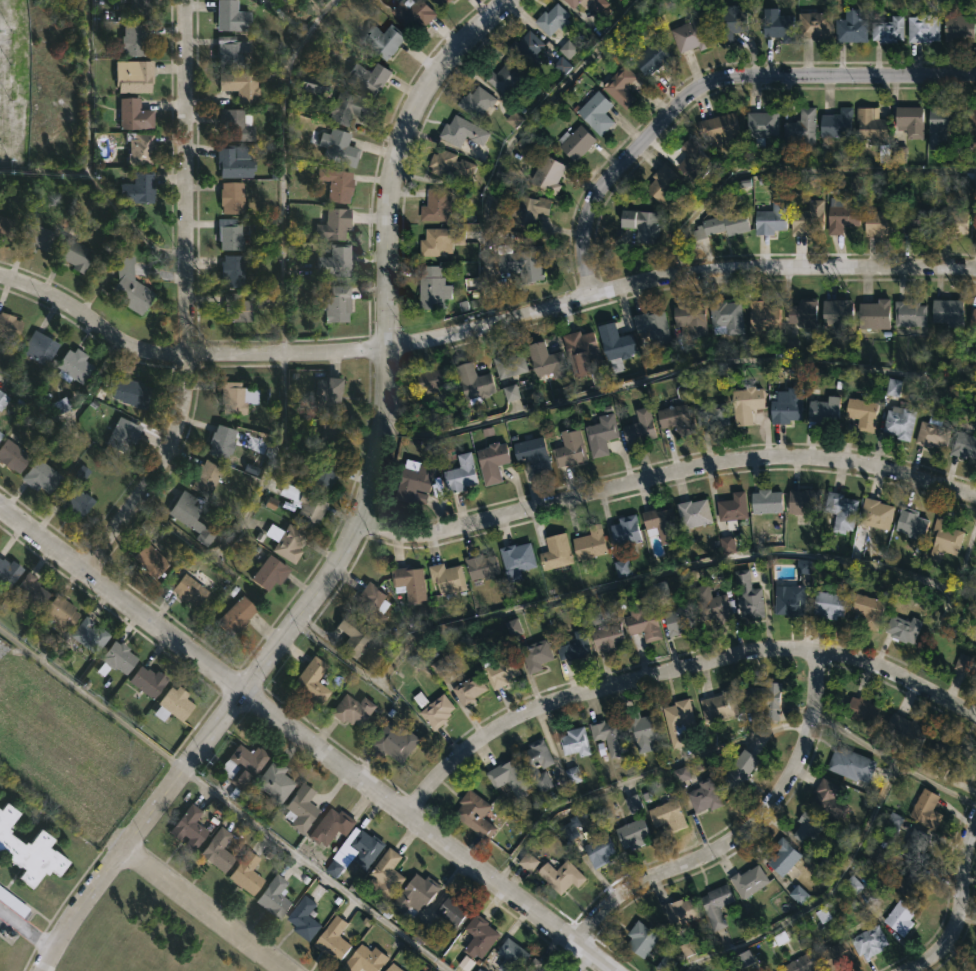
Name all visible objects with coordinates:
building: (445, 3)
building: (570, 3)
building: (597, 5)
building: (141, 8)
building: (415, 14)
building: (233, 16)
building: (551, 19)
building: (729, 22)
building: (813, 24)
building: (777, 25)
building: (957, 26)
building: (849, 27)
building: (921, 27)
building: (886, 29)
building: (689, 35)
building: (133, 39)
building: (386, 40)
building: (524, 47)
building: (567, 49)
building: (229, 51)
building: (651, 59)
building: (561, 66)
building: (133, 75)
building: (371, 77)
building: (505, 77)
building: (313, 82)
road: (708, 82)
building: (242, 85)
building: (619, 86)
building: (476, 101)
building: (363, 107)
building: (595, 113)
building: (135, 114)
building: (973, 117)
building: (513, 120)
building: (909, 121)
building: (836, 124)
building: (236, 125)
building: (762, 125)
building: (800, 126)
building: (870, 126)
building: (940, 126)
building: (718, 129)
building: (463, 131)
building: (574, 142)
building: (339, 147)
building: (141, 149)
building: (692, 160)
building: (233, 162)
building: (451, 164)
building: (542, 173)
building: (340, 184)
building: (662, 186)
building: (141, 188)
building: (232, 197)
building: (438, 205)
building: (525, 211)
building: (840, 215)
building: (770, 218)
building: (806, 218)
building: (951, 221)
building: (915, 222)
building: (878, 223)
building: (720, 224)
building: (336, 225)
building: (639, 225)
building: (6, 227)
building: (230, 234)
building: (35, 238)
building: (441, 240)
building: (127, 241)
building: (72, 251)
building: (340, 260)
building: (523, 262)
building: (234, 269)
building: (432, 284)
building: (130, 286)
road: (185, 300)
building: (338, 304)
building: (235, 308)
building: (802, 312)
building: (836, 312)
building: (946, 312)
building: (872, 314)
building: (908, 314)
building: (725, 317)
building: (689, 318)
building: (763, 319)
building: (972, 321)
building: (9, 325)
road: (479, 327)
building: (651, 327)
building: (613, 341)
building: (39, 347)
road: (385, 347)
building: (581, 351)
building: (544, 361)
building: (73, 365)
building: (508, 365)
building: (431, 380)
building: (476, 382)
building: (132, 392)
building: (510, 393)
building: (237, 397)
building: (331, 397)
building: (3, 400)
building: (745, 403)
building: (785, 406)
building: (710, 412)
building: (822, 412)
building: (859, 414)
building: (674, 419)
building: (897, 423)
building: (639, 426)
building: (599, 433)
building: (1, 434)
building: (124, 434)
building: (930, 435)
building: (332, 436)
building: (223, 442)
building: (963, 446)
building: (567, 449)
building: (533, 454)
building: (14, 456)
building: (495, 462)
building: (462, 474)
building: (42, 476)
building: (207, 477)
building: (323, 477)
road: (666, 477)
building: (412, 480)
building: (802, 501)
building: (77, 502)
building: (764, 502)
building: (306, 506)
building: (730, 508)
building: (838, 511)
building: (691, 512)
building: (875, 514)
building: (191, 517)
building: (909, 523)
building: (659, 525)
building: (624, 532)
building: (944, 536)
building: (288, 541)
building: (589, 543)
building: (726, 545)
building: (554, 552)
building: (518, 556)
building: (152, 559)
building: (483, 566)
building: (803, 567)
building: (622, 568)
building: (9, 571)
building: (270, 571)
road: (638, 579)
building: (448, 580)
building: (411, 584)
building: (32, 589)
building: (191, 589)
building: (746, 594)
road: (121, 600)
building: (789, 602)
building: (373, 604)
building: (827, 605)
building: (709, 606)
building: (867, 611)
building: (61, 612)
building: (237, 616)
building: (679, 619)
building: (642, 624)
building: (512, 627)
building: (901, 628)
building: (89, 634)
building: (357, 635)
building: (605, 638)
building: (571, 647)
building: (534, 655)
building: (117, 657)
building: (962, 664)
road: (675, 665)
building: (440, 668)
building: (501, 668)
building: (149, 680)
building: (313, 681)
building: (473, 689)
building: (761, 697)
road: (92, 700)
building: (175, 703)
building: (717, 706)
building: (354, 709)
building: (435, 710)
building: (861, 710)
building: (676, 722)
building: (642, 731)
building: (906, 732)
building: (607, 737)
building: (397, 741)
building: (573, 742)
building: (943, 752)
building: (848, 765)
building: (242, 769)
building: (737, 771)
building: (521, 772)
building: (572, 775)
building: (680, 775)
building: (275, 784)
building: (702, 796)
building: (827, 798)
building: (633, 804)
building: (302, 808)
building: (924, 809)
building: (475, 813)
building: (666, 815)
building: (333, 825)
building: (189, 826)
building: (806, 827)
road: (424, 830)
building: (630, 830)
road: (138, 831)
building: (568, 831)
road: (739, 834)
building: (916, 843)
building: (368, 847)
building: (219, 849)
building: (598, 849)
building: (28, 850)
building: (783, 858)
building: (528, 862)
road: (315, 869)
building: (247, 872)
building: (389, 873)
building: (559, 875)
building: (747, 880)
building: (903, 882)
building: (852, 885)
road: (953, 891)
building: (418, 894)
building: (798, 895)
building: (274, 896)
building: (715, 905)
building: (683, 910)
road: (203, 911)
building: (451, 911)
building: (898, 916)
building: (302, 918)
road: (25, 930)
park: (145, 938)
building: (334, 939)
building: (640, 939)
building: (479, 940)
building: (867, 941)
building: (510, 955)
building: (833, 955)
building: (745, 959)
building: (366, 960)
building: (801, 963)
building: (533, 965)
building: (394, 967)
building: (480, 968)

